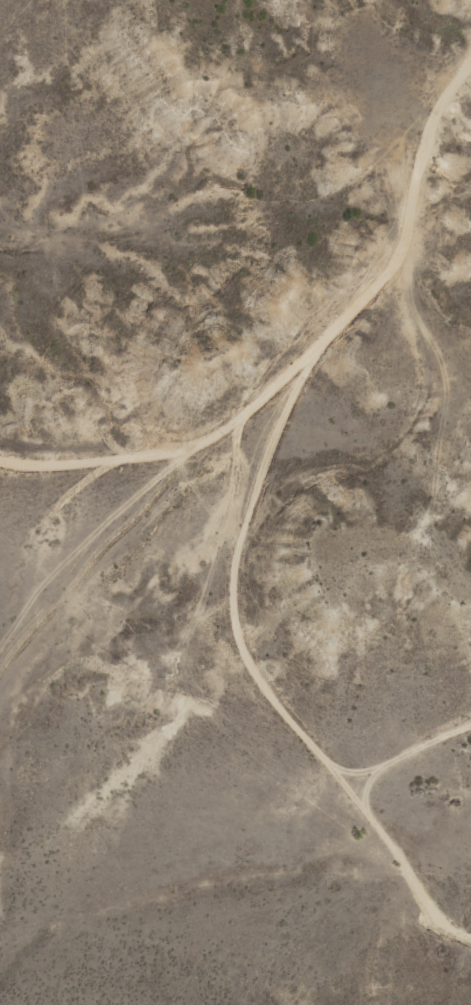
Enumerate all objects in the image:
road: (344, 376)
road: (289, 730)

